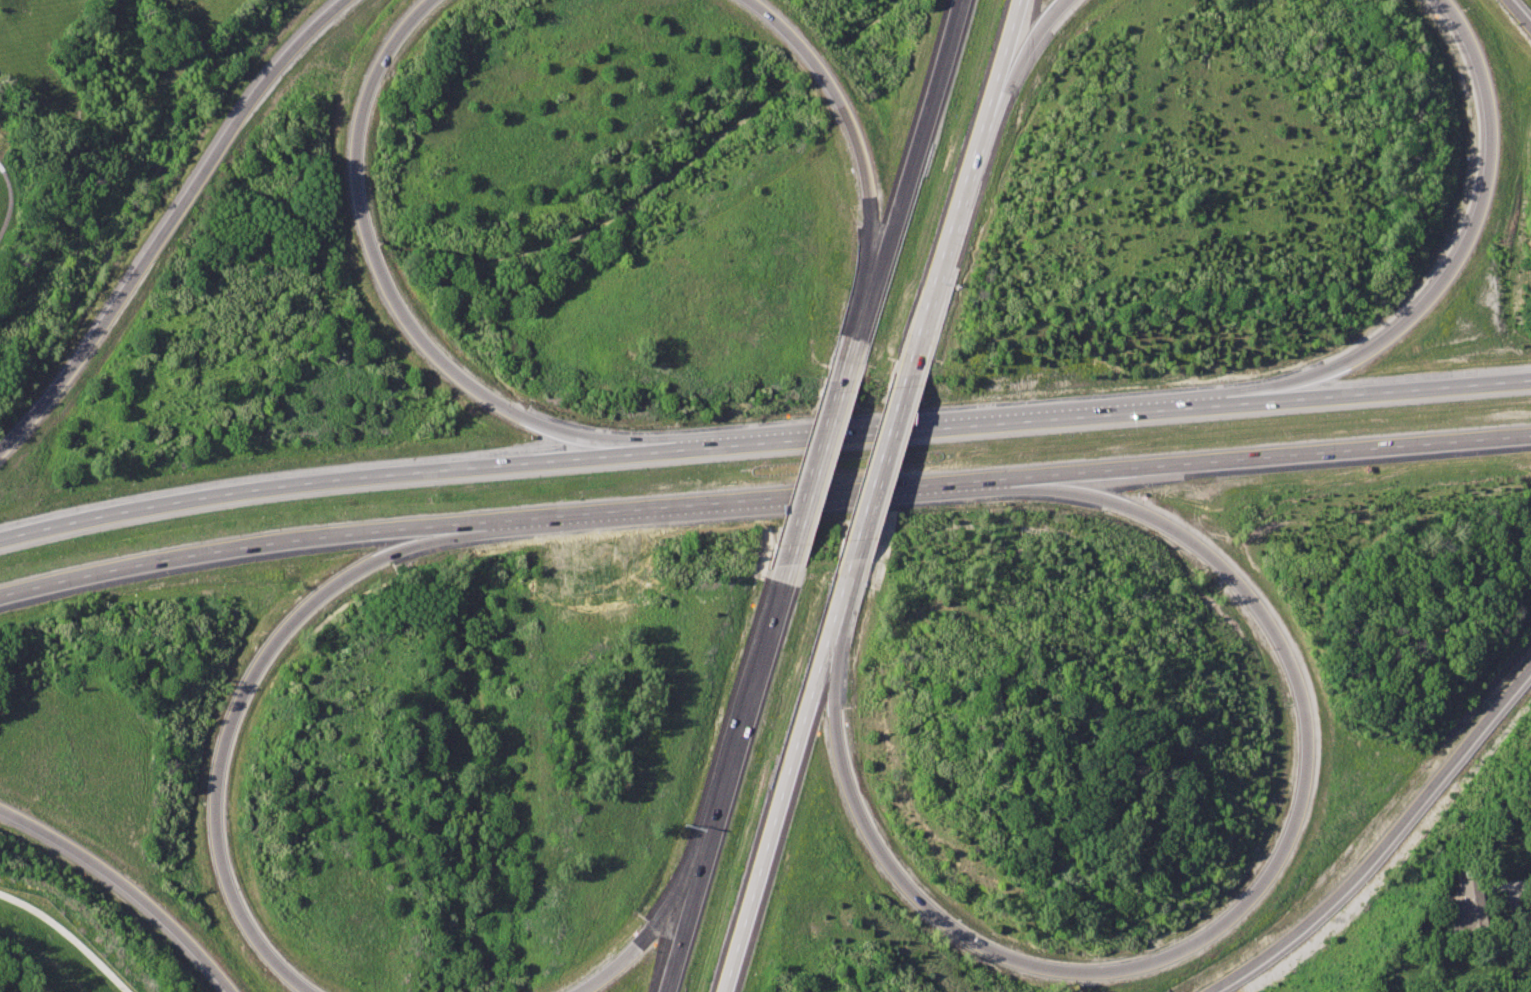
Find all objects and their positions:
road: (1518, 14)
road: (1024, 40)
road: (1005, 42)
road: (847, 125)
road: (915, 142)
road: (11, 203)
road: (951, 217)
road: (164, 222)
road: (1463, 245)
road: (378, 273)
road: (858, 332)
road: (1396, 391)
road: (934, 429)
road: (1289, 454)
road: (879, 456)
road: (813, 476)
road: (300, 484)
road: (758, 497)
road: (233, 547)
road: (837, 608)
road: (236, 711)
road: (745, 713)
road: (776, 823)
road: (1386, 846)
road: (126, 886)
road: (1513, 896)
building: (1468, 905)
road: (1229, 921)
road: (686, 922)
road: (648, 930)
road: (69, 934)

